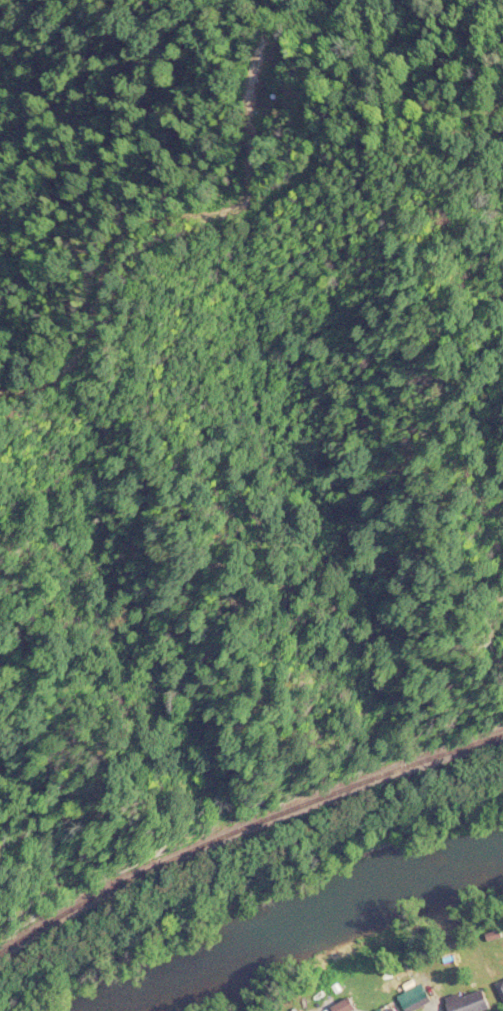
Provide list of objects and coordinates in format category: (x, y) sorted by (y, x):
railway: (243, 828)
river: (291, 923)
building: (500, 988)
building: (468, 1001)
building: (391, 1009)

